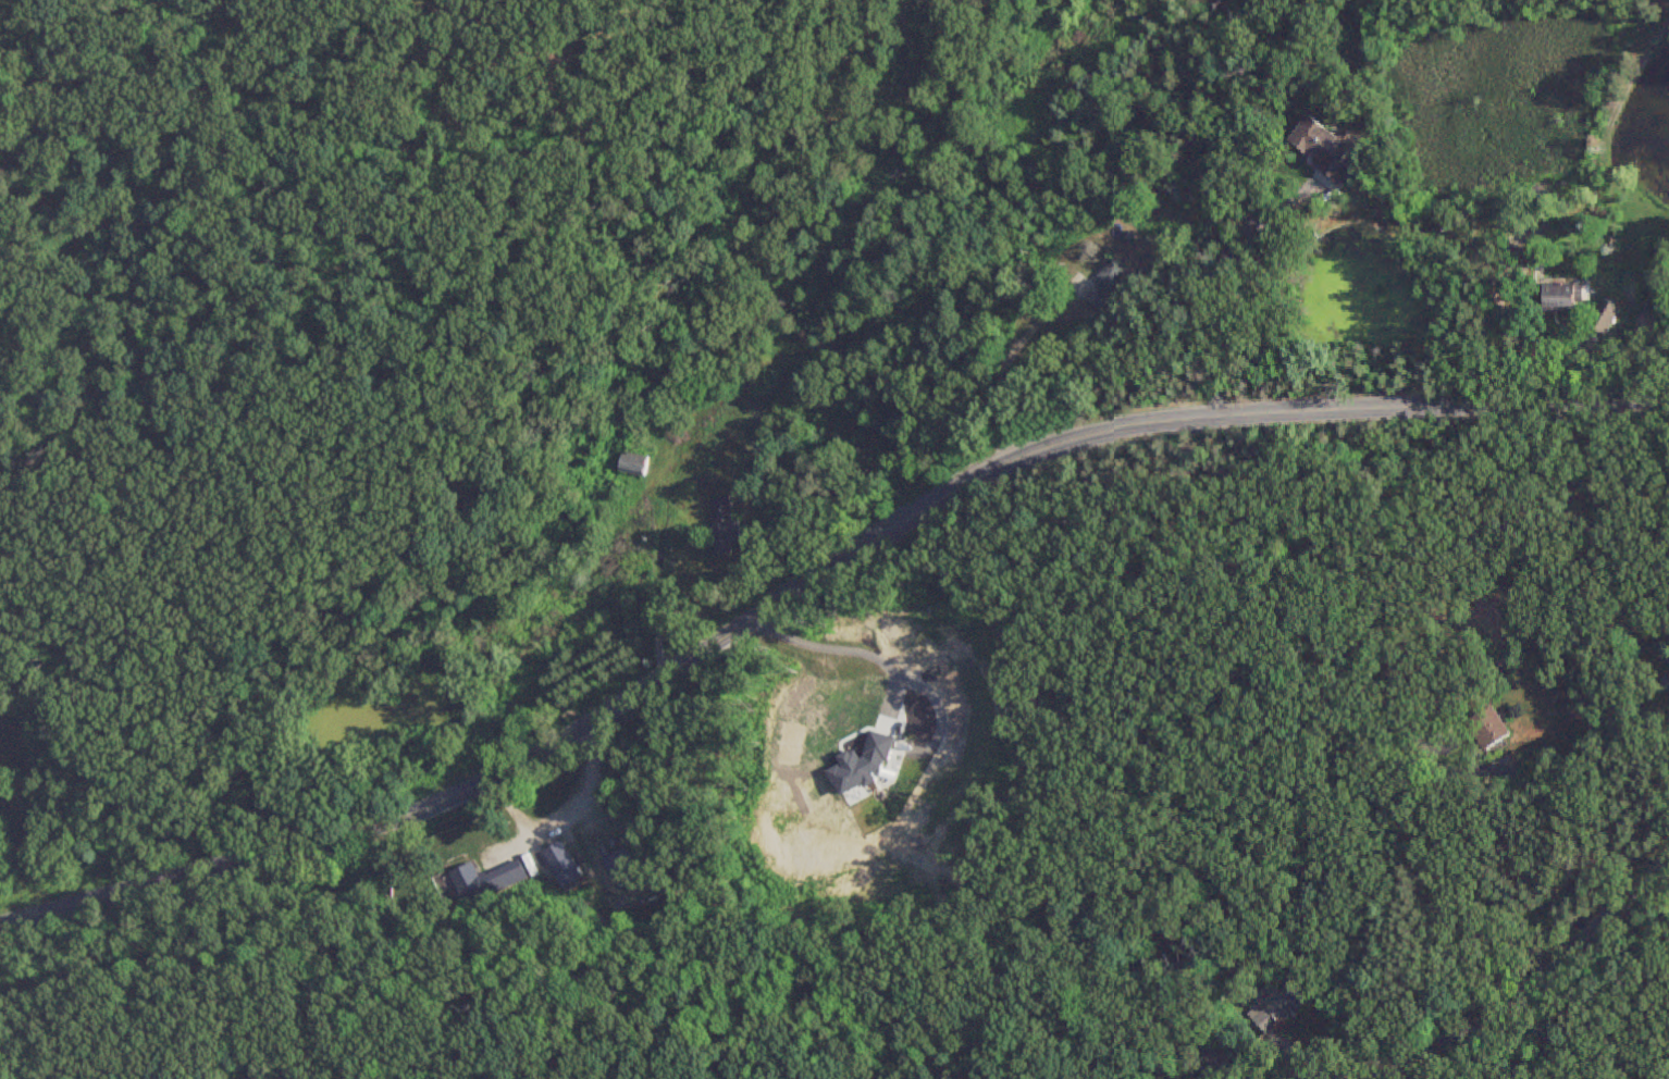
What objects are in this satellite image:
building: (1324, 150)
road: (1224, 287)
building: (1566, 300)
road: (1003, 375)
building: (631, 466)
road: (659, 534)
road: (815, 581)
road: (836, 652)
building: (1666, 683)
building: (1489, 731)
road: (561, 819)
building: (561, 863)
building: (621, 868)
building: (498, 889)
road: (1439, 897)
road: (88, 960)
road: (332, 960)
road: (1520, 997)
building: (1277, 1012)
building: (256, 1077)
road: (1360, 1077)

